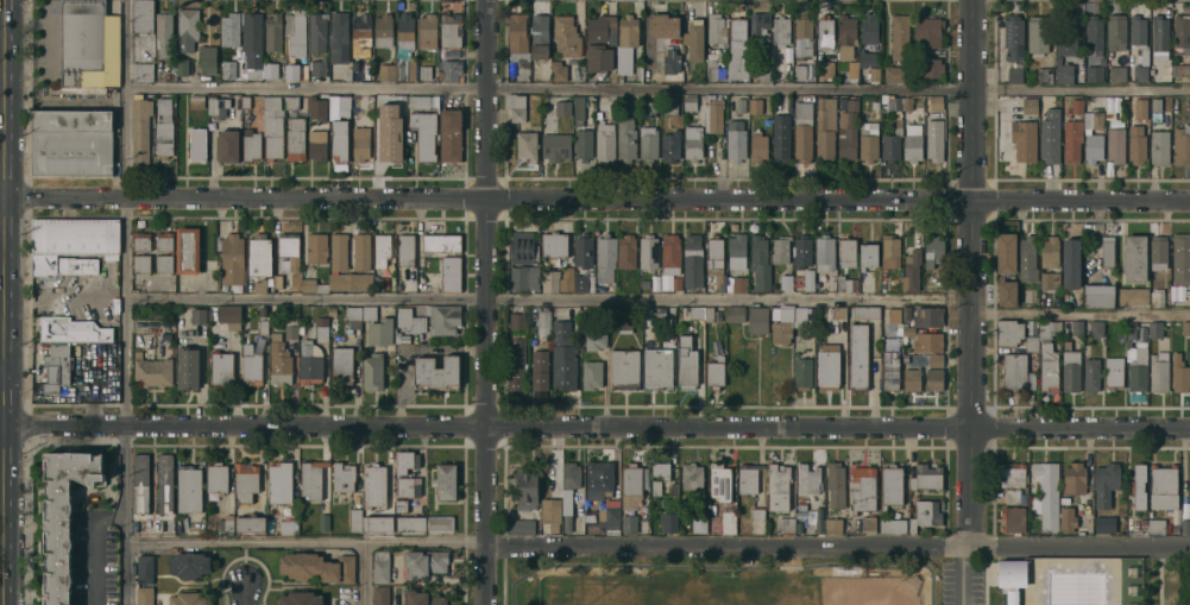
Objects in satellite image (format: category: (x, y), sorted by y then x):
building: (143, 15)
building: (289, 23)
building: (188, 24)
building: (663, 25)
building: (231, 26)
building: (760, 27)
building: (717, 29)
building: (868, 29)
building: (361, 30)
building: (383, 30)
building: (405, 30)
building: (451, 30)
building: (273, 31)
building: (427, 31)
building: (927, 31)
building: (1182, 31)
building: (317, 32)
building: (780, 32)
building: (824, 32)
building: (1115, 32)
building: (1159, 32)
building: (163, 33)
building: (1037, 34)
building: (1094, 34)
building: (1139, 34)
building: (566, 36)
building: (802, 36)
building: (540, 37)
building: (846, 37)
building: (899, 37)
building: (1013, 37)
building: (339, 38)
building: (252, 39)
building: (695, 40)
building: (600, 42)
building: (520, 43)
building: (1066, 43)
building: (88, 44)
building: (625, 44)
building: (736, 44)
building: (297, 46)
building: (766, 50)
road: (0, 56)
building: (207, 58)
building: (766, 58)
building: (867, 58)
building: (1058, 59)
building: (1102, 59)
building: (670, 61)
building: (182, 67)
building: (319, 68)
building: (825, 68)
building: (917, 68)
building: (932, 68)
building: (270, 69)
building: (712, 69)
building: (852, 69)
building: (1180, 69)
building: (452, 70)
building: (143, 71)
building: (347, 71)
building: (386, 71)
building: (424, 71)
building: (559, 71)
building: (763, 71)
building: (799, 71)
building: (254, 73)
building: (434, 73)
building: (1069, 73)
building: (1093, 73)
building: (1116, 73)
building: (1139, 73)
building: (895, 74)
building: (874, 75)
building: (1013, 75)
building: (1044, 75)
building: (621, 78)
road: (656, 90)
building: (196, 101)
building: (246, 101)
building: (292, 101)
building: (418, 101)
building: (690, 102)
building: (907, 102)
building: (936, 102)
building: (388, 103)
building: (344, 105)
building: (896, 105)
building: (1156, 105)
building: (218, 106)
building: (741, 106)
building: (755, 106)
building: (1030, 106)
building: (1076, 106)
building: (316, 107)
building: (611, 107)
building: (517, 108)
building: (562, 108)
building: (648, 108)
building: (670, 108)
building: (788, 108)
building: (883, 108)
building: (579, 109)
building: (1110, 113)
building: (714, 115)
building: (1156, 116)
building: (1093, 119)
building: (71, 120)
building: (140, 127)
building: (272, 127)
building: (825, 127)
building: (164, 128)
building: (627, 131)
building: (802, 132)
building: (848, 132)
building: (424, 133)
building: (451, 136)
building: (1050, 136)
building: (781, 138)
building: (295, 139)
building: (339, 139)
building: (1024, 139)
building: (1135, 139)
building: (736, 140)
building: (868, 140)
building: (1072, 140)
building: (389, 141)
building: (604, 141)
building: (912, 141)
building: (360, 143)
building: (693, 143)
building: (196, 144)
building: (251, 144)
building: (584, 144)
building: (649, 144)
building: (890, 144)
building: (934, 144)
building: (1115, 144)
building: (1182, 144)
building: (227, 145)
building: (527, 145)
building: (670, 145)
building: (317, 146)
building: (555, 146)
building: (757, 146)
building: (1093, 147)
building: (1159, 147)
building: (71, 152)
road: (594, 203)
building: (75, 237)
building: (141, 240)
building: (164, 240)
building: (441, 242)
building: (554, 244)
building: (316, 247)
building: (522, 247)
building: (780, 248)
building: (187, 250)
building: (289, 250)
building: (382, 250)
building: (405, 250)
building: (583, 250)
building: (932, 250)
building: (1107, 250)
building: (339, 251)
building: (361, 251)
building: (627, 251)
building: (737, 251)
building: (801, 251)
building: (846, 251)
building: (889, 251)
building: (1049, 251)
building: (648, 252)
building: (824, 252)
building: (1006, 252)
building: (1158, 252)
building: (670, 253)
building: (258, 254)
building: (714, 254)
building: (868, 254)
building: (605, 257)
building: (1134, 257)
building: (1027, 258)
building: (1180, 258)
building: (693, 260)
building: (758, 261)
building: (141, 263)
building: (164, 263)
building: (232, 263)
building: (1071, 263)
building: (61, 264)
building: (911, 270)
road: (971, 271)
building: (449, 273)
building: (409, 277)
building: (524, 277)
building: (549, 279)
building: (566, 279)
building: (804, 279)
building: (1050, 279)
building: (278, 281)
building: (350, 281)
building: (374, 281)
building: (786, 282)
building: (580, 283)
building: (644, 283)
building: (676, 283)
building: (737, 283)
building: (844, 283)
building: (259, 285)
building: (314, 285)
building: (720, 285)
building: (1007, 292)
building: (1024, 292)
building: (1098, 295)
building: (1133, 295)
building: (1158, 296)
road: (546, 300)
road: (1, 302)
road: (122, 302)
road: (484, 302)
building: (115, 305)
building: (263, 310)
building: (332, 310)
building: (695, 311)
building: (838, 311)
building: (865, 311)
building: (354, 313)
building: (369, 313)
building: (733, 313)
building: (775, 313)
building: (906, 313)
building: (709, 314)
building: (199, 315)
building: (229, 315)
building: (810, 315)
building: (894, 315)
road: (1079, 315)
building: (799, 316)
building: (927, 316)
building: (542, 317)
building: (409, 319)
building: (443, 319)
building: (657, 319)
building: (516, 320)
building: (758, 320)
building: (624, 322)
building: (905, 324)
building: (263, 326)
building: (321, 327)
building: (1077, 327)
building: (1185, 327)
building: (290, 328)
building: (1095, 328)
building: (1156, 328)
building: (71, 329)
building: (301, 329)
building: (1045, 329)
building: (380, 330)
building: (1131, 330)
building: (780, 332)
building: (1008, 332)
building: (1121, 332)
building: (906, 333)
building: (404, 336)
building: (594, 339)
building: (927, 341)
building: (1031, 344)
building: (246, 347)
building: (1084, 349)
building: (857, 355)
building: (563, 357)
building: (934, 359)
building: (278, 360)
building: (309, 363)
building: (515, 363)
building: (686, 363)
building: (827, 365)
building: (56, 366)
building: (1049, 366)
building: (188, 367)
building: (221, 367)
building: (341, 367)
building: (657, 367)
building: (1070, 367)
building: (1138, 367)
building: (252, 368)
building: (540, 368)
building: (624, 368)
building: (151, 371)
building: (372, 371)
building: (889, 371)
building: (1114, 371)
building: (1158, 371)
building: (436, 372)
building: (1016, 372)
building: (591, 373)
building: (714, 373)
building: (802, 373)
building: (1179, 373)
building: (1091, 374)
road: (1, 376)
building: (911, 379)
building: (933, 379)
building: (71, 389)
road: (596, 429)
building: (405, 460)
building: (661, 468)
building: (1012, 474)
building: (692, 475)
building: (216, 477)
building: (342, 477)
building: (748, 477)
building: (926, 477)
building: (311, 478)
building: (602, 478)
building: (808, 478)
building: (1073, 478)
building: (445, 480)
building: (140, 481)
building: (245, 481)
building: (719, 481)
building: (1104, 481)
building: (164, 483)
building: (835, 483)
building: (279, 484)
building: (374, 485)
building: (631, 485)
building: (892, 485)
building: (1139, 485)
building: (408, 486)
building: (777, 486)
building: (1164, 486)
building: (188, 487)
building: (525, 487)
building: (656, 487)
building: (863, 487)
building: (674, 489)
building: (568, 490)
building: (587, 492)
building: (1047, 492)
building: (1010, 497)
building: (401, 505)
building: (588, 509)
building: (550, 510)
building: (611, 513)
building: (925, 513)
building: (63, 516)
building: (355, 518)
building: (378, 518)
building: (1012, 518)
building: (757, 519)
building: (808, 519)
building: (819, 519)
building: (1066, 519)
building: (1142, 519)
building: (323, 521)
building: (728, 521)
building: (228, 522)
building: (250, 522)
building: (440, 522)
building: (669, 522)
building: (410, 523)
building: (629, 523)
building: (698, 523)
building: (786, 523)
building: (869, 523)
building: (1104, 523)
building: (893, 524)
building: (288, 525)
building: (521, 525)
building: (833, 525)
building: (1156, 527)
building: (1185, 527)
road: (0, 536)
road: (304, 543)
road: (837, 543)
road: (94, 546)
building: (423, 562)
building: (189, 563)
building: (317, 566)
building: (380, 566)
building: (144, 567)
road: (365, 574)
road: (961, 574)
building: (1012, 578)
park: (848, 580)
road: (243, 593)
building: (380, 594)
building: (301, 597)
building: (188, 598)
building: (422, 598)
building: (144, 600)

